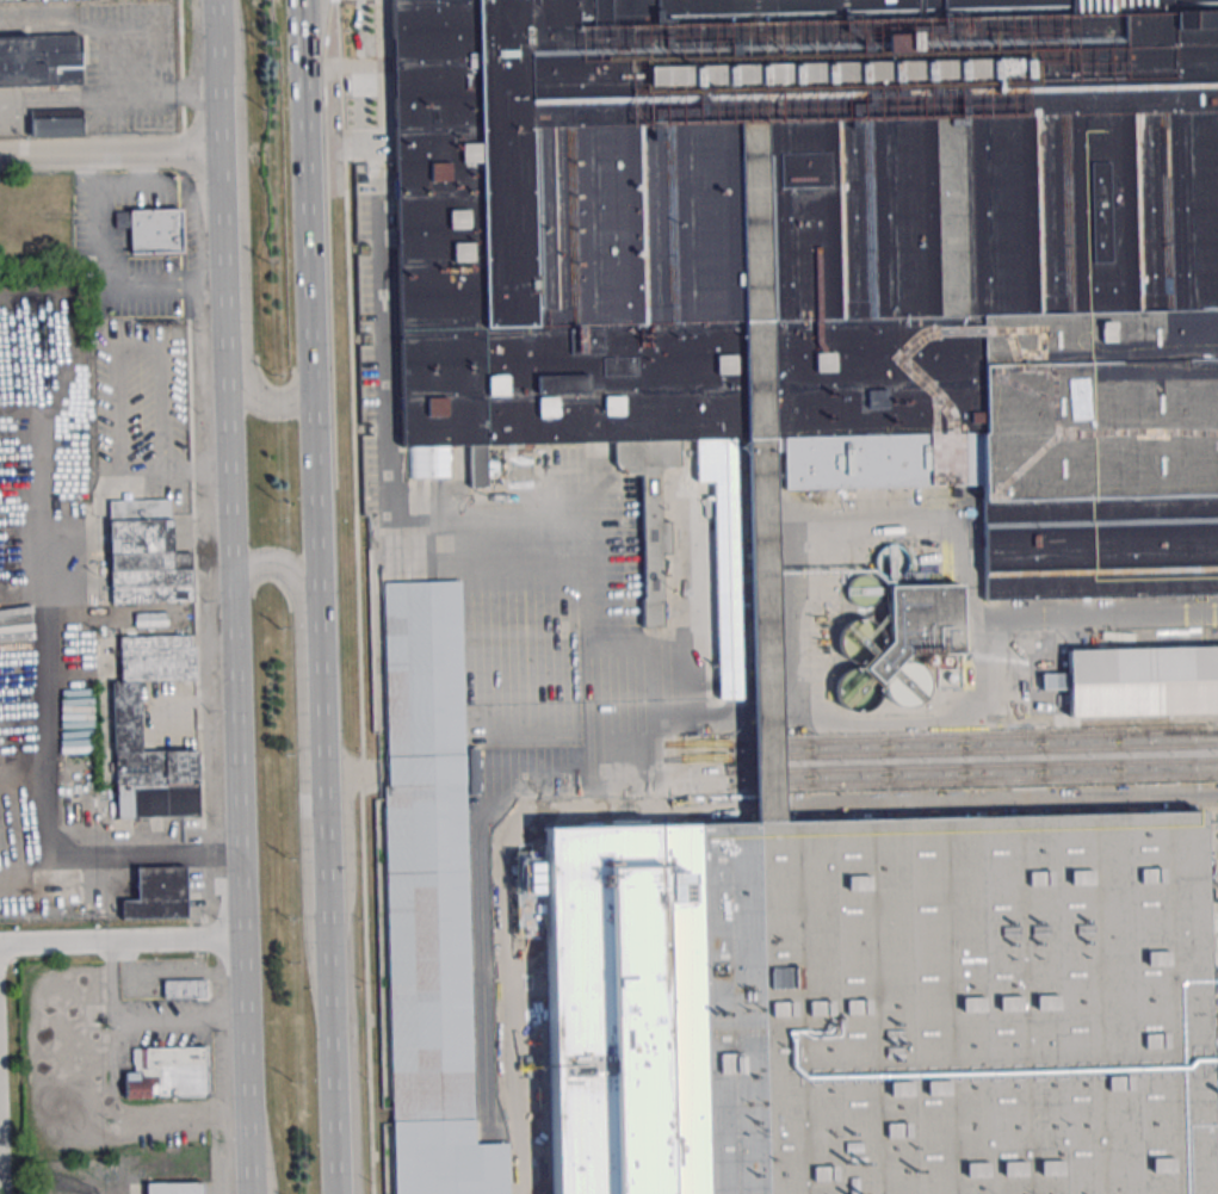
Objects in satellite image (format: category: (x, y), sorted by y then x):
road: (100, 19)
road: (214, 36)
building: (39, 60)
road: (171, 92)
road: (63, 97)
building: (55, 123)
road: (342, 147)
road: (107, 159)
road: (135, 180)
road: (217, 215)
building: (152, 229)
building: (829, 260)
road: (103, 265)
road: (308, 310)
road: (259, 396)
road: (160, 408)
road: (122, 409)
road: (224, 464)
road: (193, 465)
building: (756, 469)
building: (144, 553)
road: (41, 561)
road: (288, 571)
building: (853, 581)
road: (358, 596)
building: (905, 637)
building: (1142, 681)
road: (191, 706)
road: (233, 707)
building: (126, 716)
railway: (940, 737)
railway: (940, 751)
railway: (973, 763)
road: (320, 766)
railway: (975, 780)
building: (427, 843)
road: (118, 849)
building: (157, 893)
road: (237, 893)
road: (175, 942)
road: (56, 945)
road: (240, 979)
road: (115, 983)
building: (184, 988)
building: (878, 1007)
road: (179, 1020)
road: (328, 1052)
road: (113, 1068)
building: (162, 1074)
road: (243, 1105)
road: (179, 1115)
road: (252, 1171)
building: (173, 1188)

